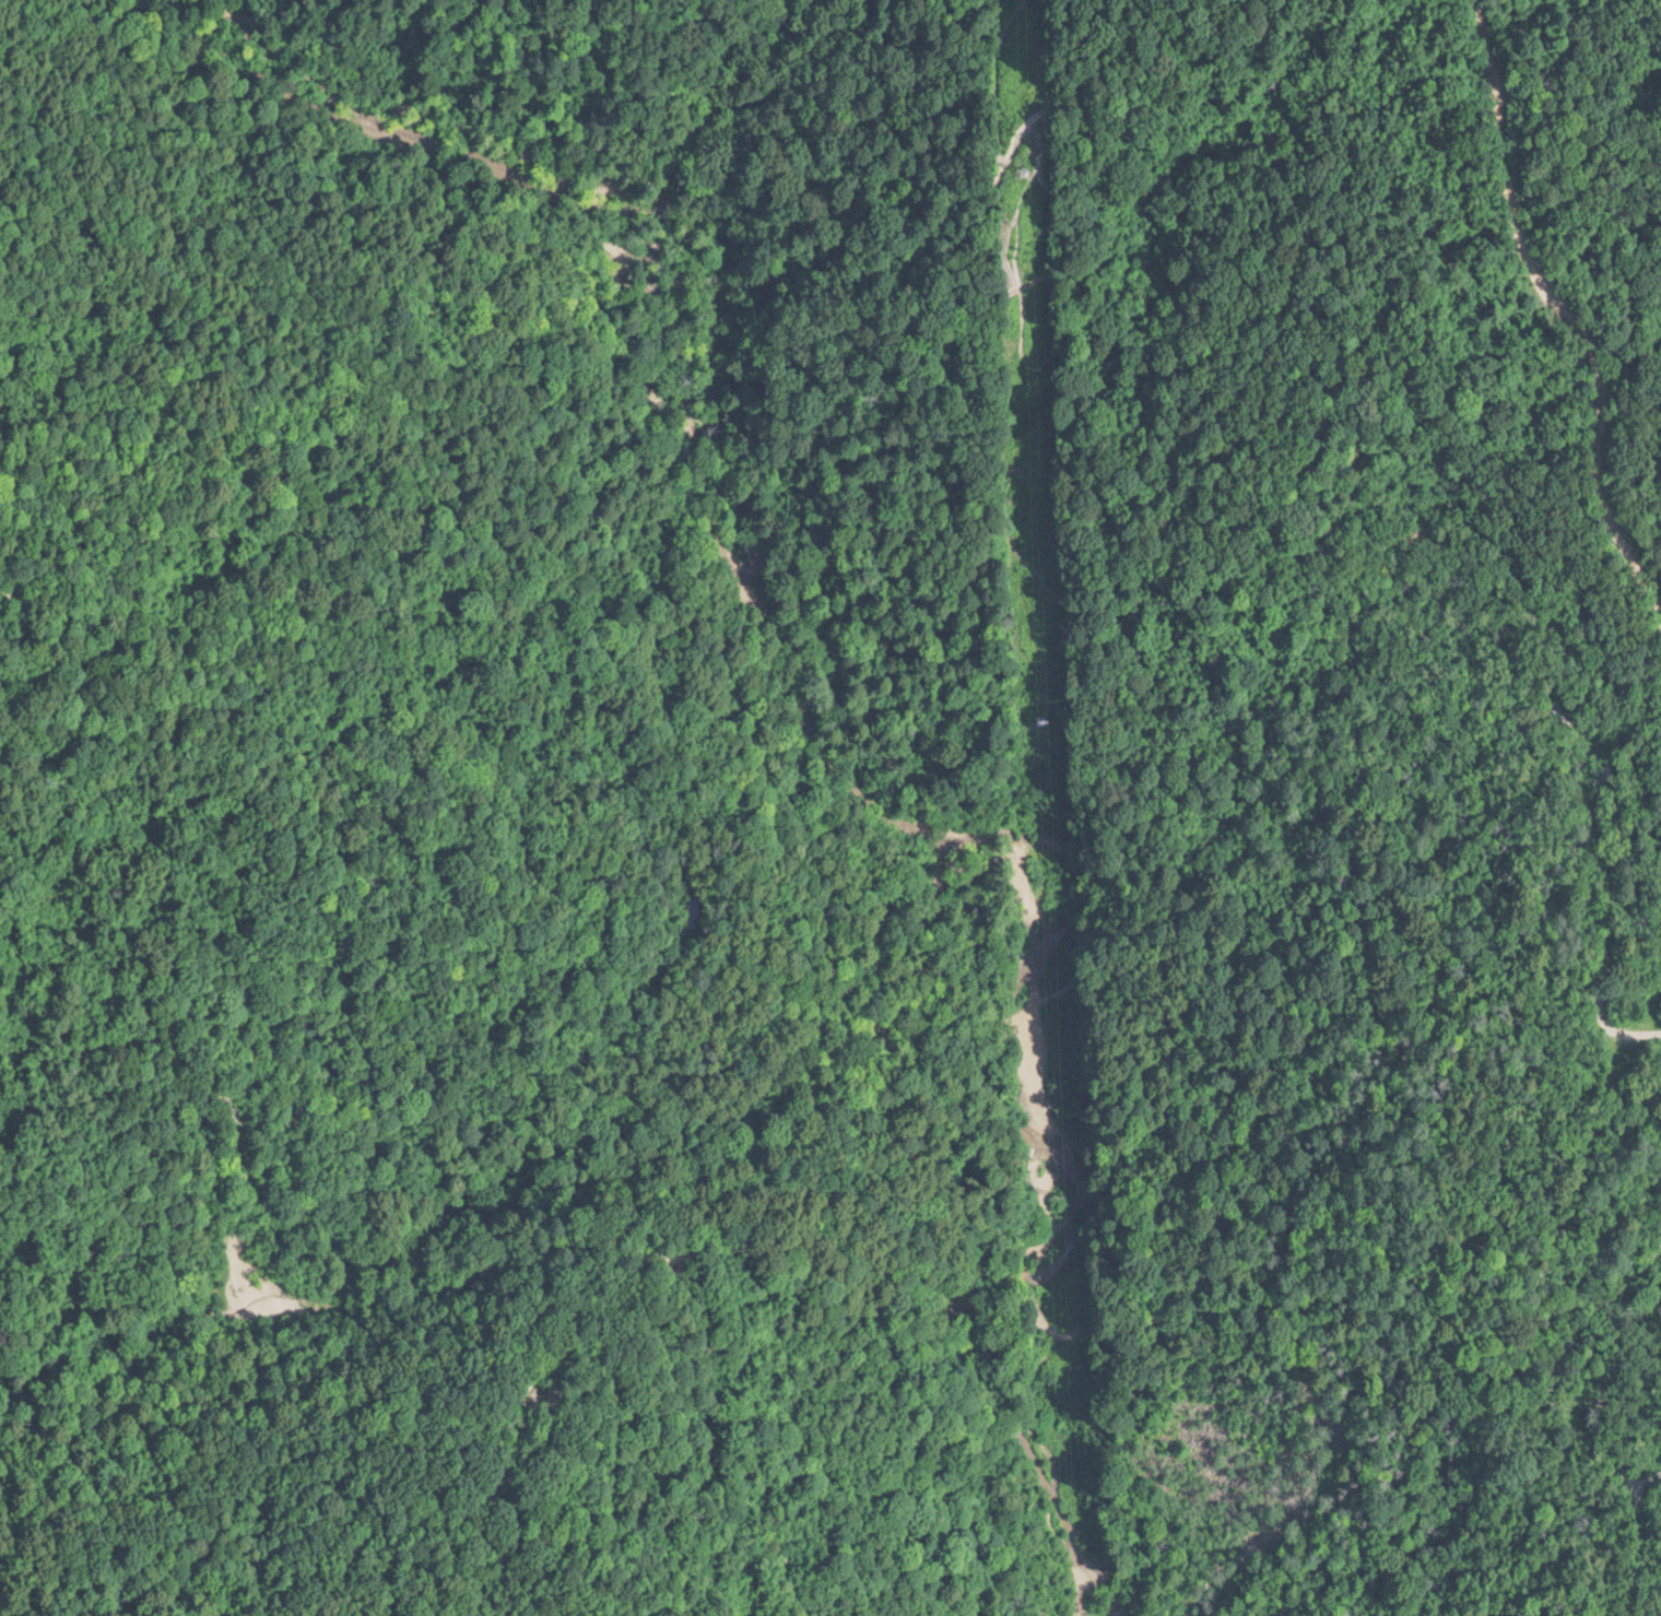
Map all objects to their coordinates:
power tower: (1024, 167)
road: (784, 682)
power tower: (1040, 720)
road: (573, 772)
power tower: (1056, 1171)
road: (544, 1211)

